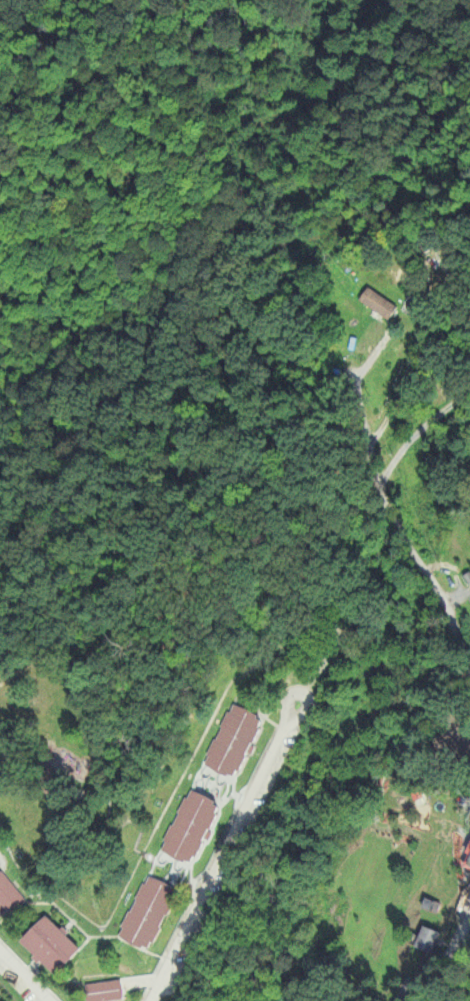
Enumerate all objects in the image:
building: (379, 300)
road: (402, 532)
building: (468, 577)
building: (239, 743)
building: (197, 828)
building: (0, 852)
road: (225, 853)
building: (469, 861)
building: (10, 898)
building: (432, 903)
building: (151, 915)
building: (426, 938)
building: (55, 947)
road: (437, 962)
road: (22, 978)
building: (107, 990)

